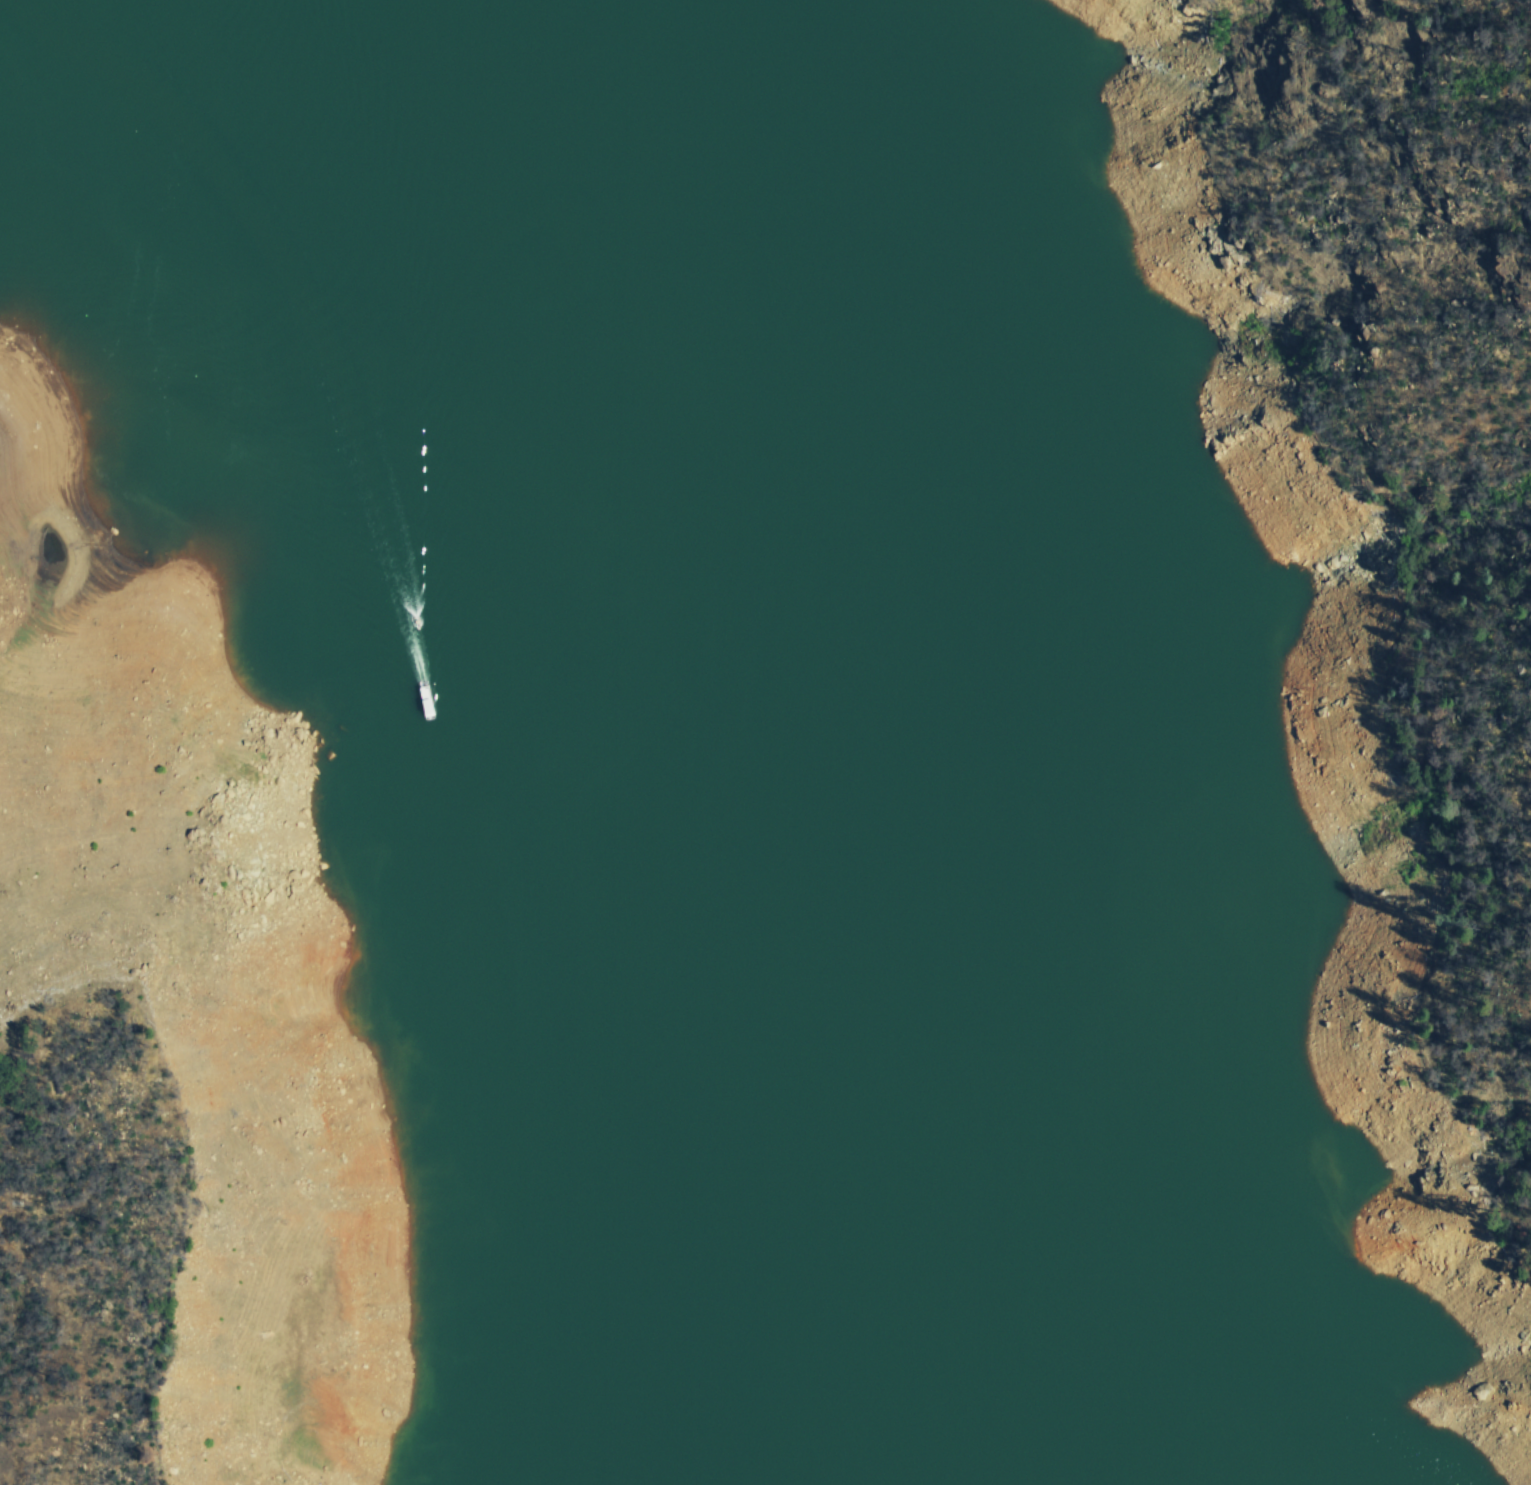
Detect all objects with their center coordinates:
river: (463, 223)
river: (634, 965)

